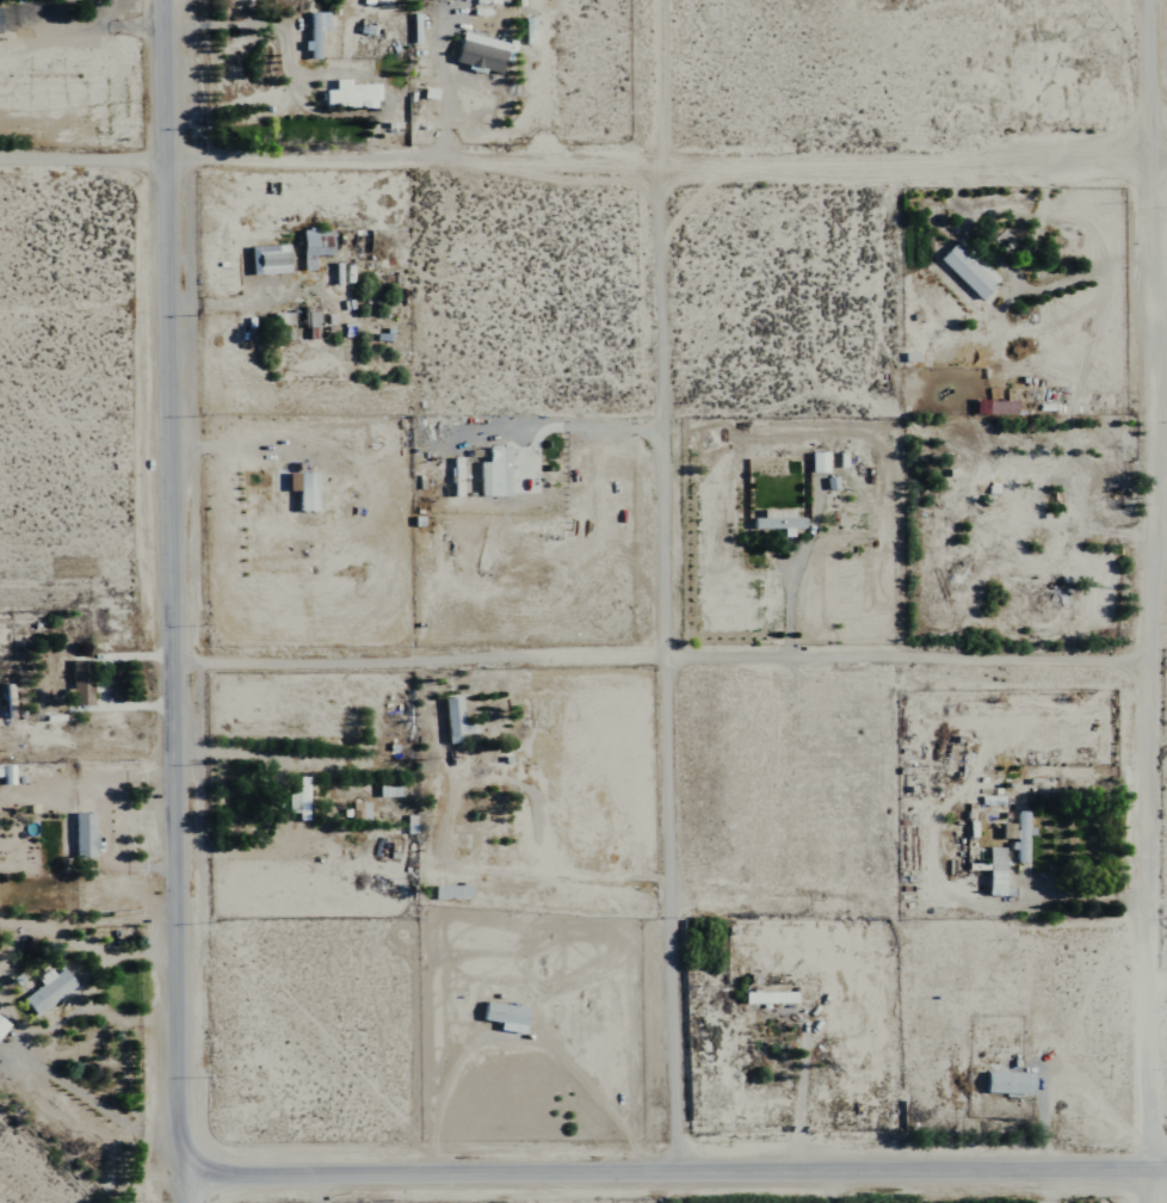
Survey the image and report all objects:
road: (88, 27)
road: (582, 165)
road: (169, 586)
road: (1153, 601)
road: (668, 668)
road: (662, 670)
building: (78, 681)
building: (385, 791)
building: (80, 834)
building: (449, 892)
road: (1091, 895)
building: (500, 1013)
building: (0, 1024)
road: (517, 1037)
road: (91, 1100)
road: (673, 1171)
road: (179, 1187)

